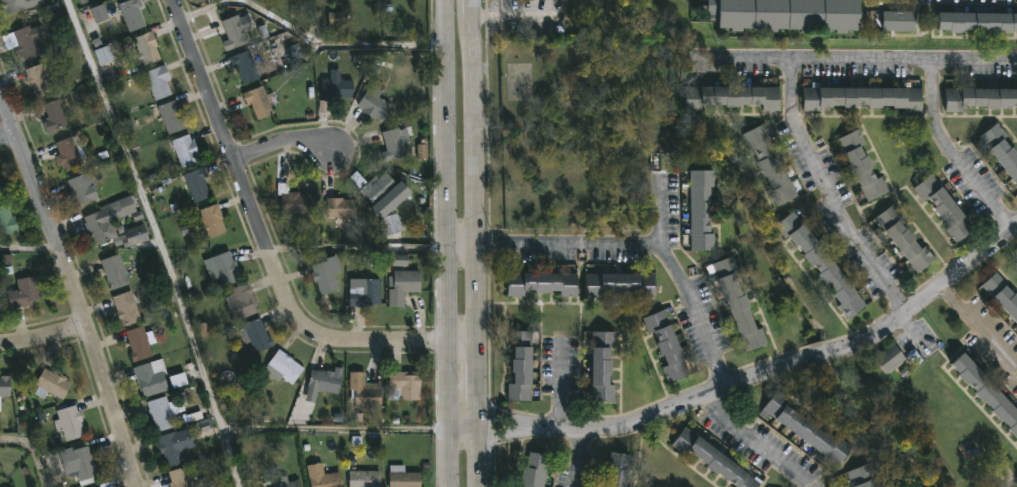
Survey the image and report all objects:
building: (12, 5)
building: (132, 14)
building: (786, 14)
road: (514, 15)
building: (898, 19)
building: (977, 22)
building: (234, 33)
building: (27, 40)
road: (309, 45)
building: (147, 47)
road: (861, 57)
building: (245, 66)
building: (37, 80)
building: (158, 81)
building: (337, 88)
building: (732, 96)
building: (863, 98)
building: (979, 98)
building: (373, 101)
building: (261, 102)
building: (54, 115)
building: (172, 117)
road: (794, 133)
road: (6, 134)
building: (394, 143)
road: (285, 147)
building: (1001, 149)
building: (185, 151)
road: (950, 152)
building: (67, 153)
building: (769, 164)
building: (861, 166)
building: (0, 182)
building: (197, 185)
building: (374, 186)
building: (81, 189)
building: (292, 201)
building: (341, 208)
building: (947, 209)
road: (660, 210)
building: (701, 210)
building: (107, 218)
building: (7, 220)
building: (211, 220)
building: (391, 224)
road: (265, 229)
building: (134, 235)
building: (905, 239)
road: (159, 241)
road: (460, 241)
road: (446, 243)
road: (475, 243)
road: (643, 243)
road: (359, 248)
road: (30, 251)
road: (864, 255)
building: (399, 262)
building: (822, 265)
building: (223, 269)
building: (116, 272)
building: (325, 275)
building: (619, 282)
building: (542, 283)
building: (402, 286)
road: (76, 291)
building: (24, 292)
building: (366, 294)
building: (1002, 294)
building: (241, 303)
building: (738, 305)
building: (126, 308)
road: (977, 326)
building: (257, 335)
road: (461, 338)
road: (45, 341)
building: (138, 342)
building: (665, 345)
building: (890, 357)
building: (283, 365)
building: (520, 366)
building: (600, 367)
road: (763, 372)
building: (151, 376)
building: (323, 379)
building: (51, 383)
building: (403, 384)
building: (5, 385)
road: (561, 385)
building: (986, 389)
building: (364, 390)
building: (162, 412)
building: (69, 422)
road: (332, 428)
road: (462, 428)
building: (803, 428)
road: (754, 442)
building: (170, 447)
road: (33, 454)
road: (580, 457)
building: (712, 459)
building: (79, 462)
building: (0, 466)
building: (0, 469)
building: (537, 470)
building: (616, 470)
building: (323, 476)
building: (858, 476)
building: (180, 477)
building: (403, 477)
building: (364, 478)
building: (284, 482)
building: (99, 486)

